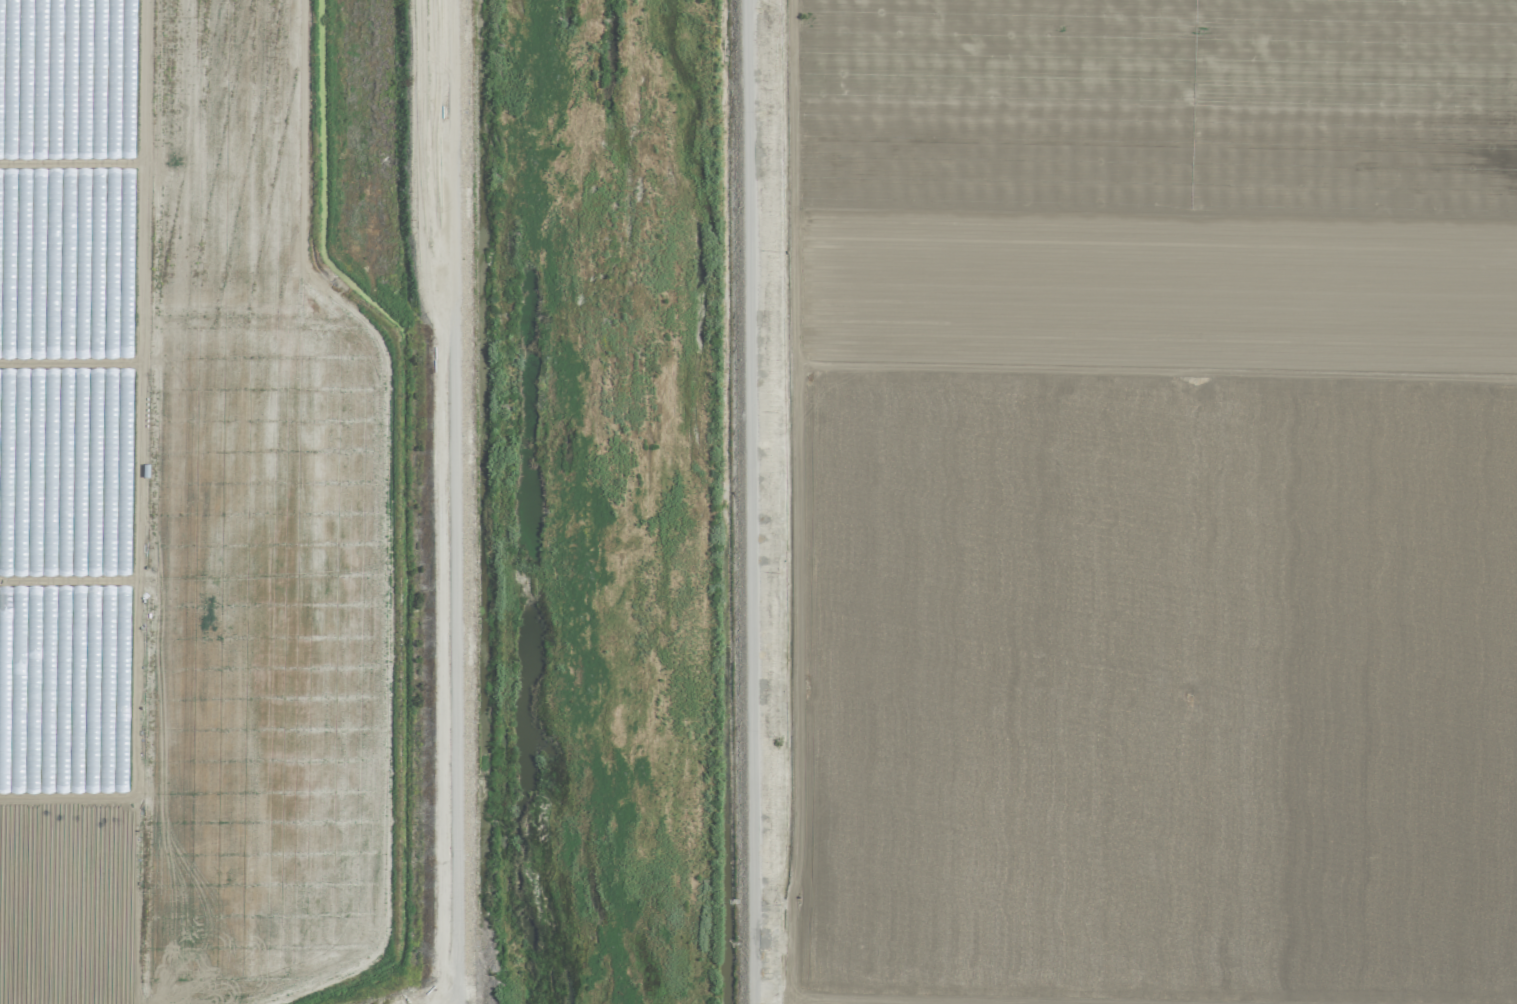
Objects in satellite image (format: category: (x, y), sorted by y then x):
river: (583, 501)
road: (744, 501)
crop: (223, 502)
crop: (1150, 502)

